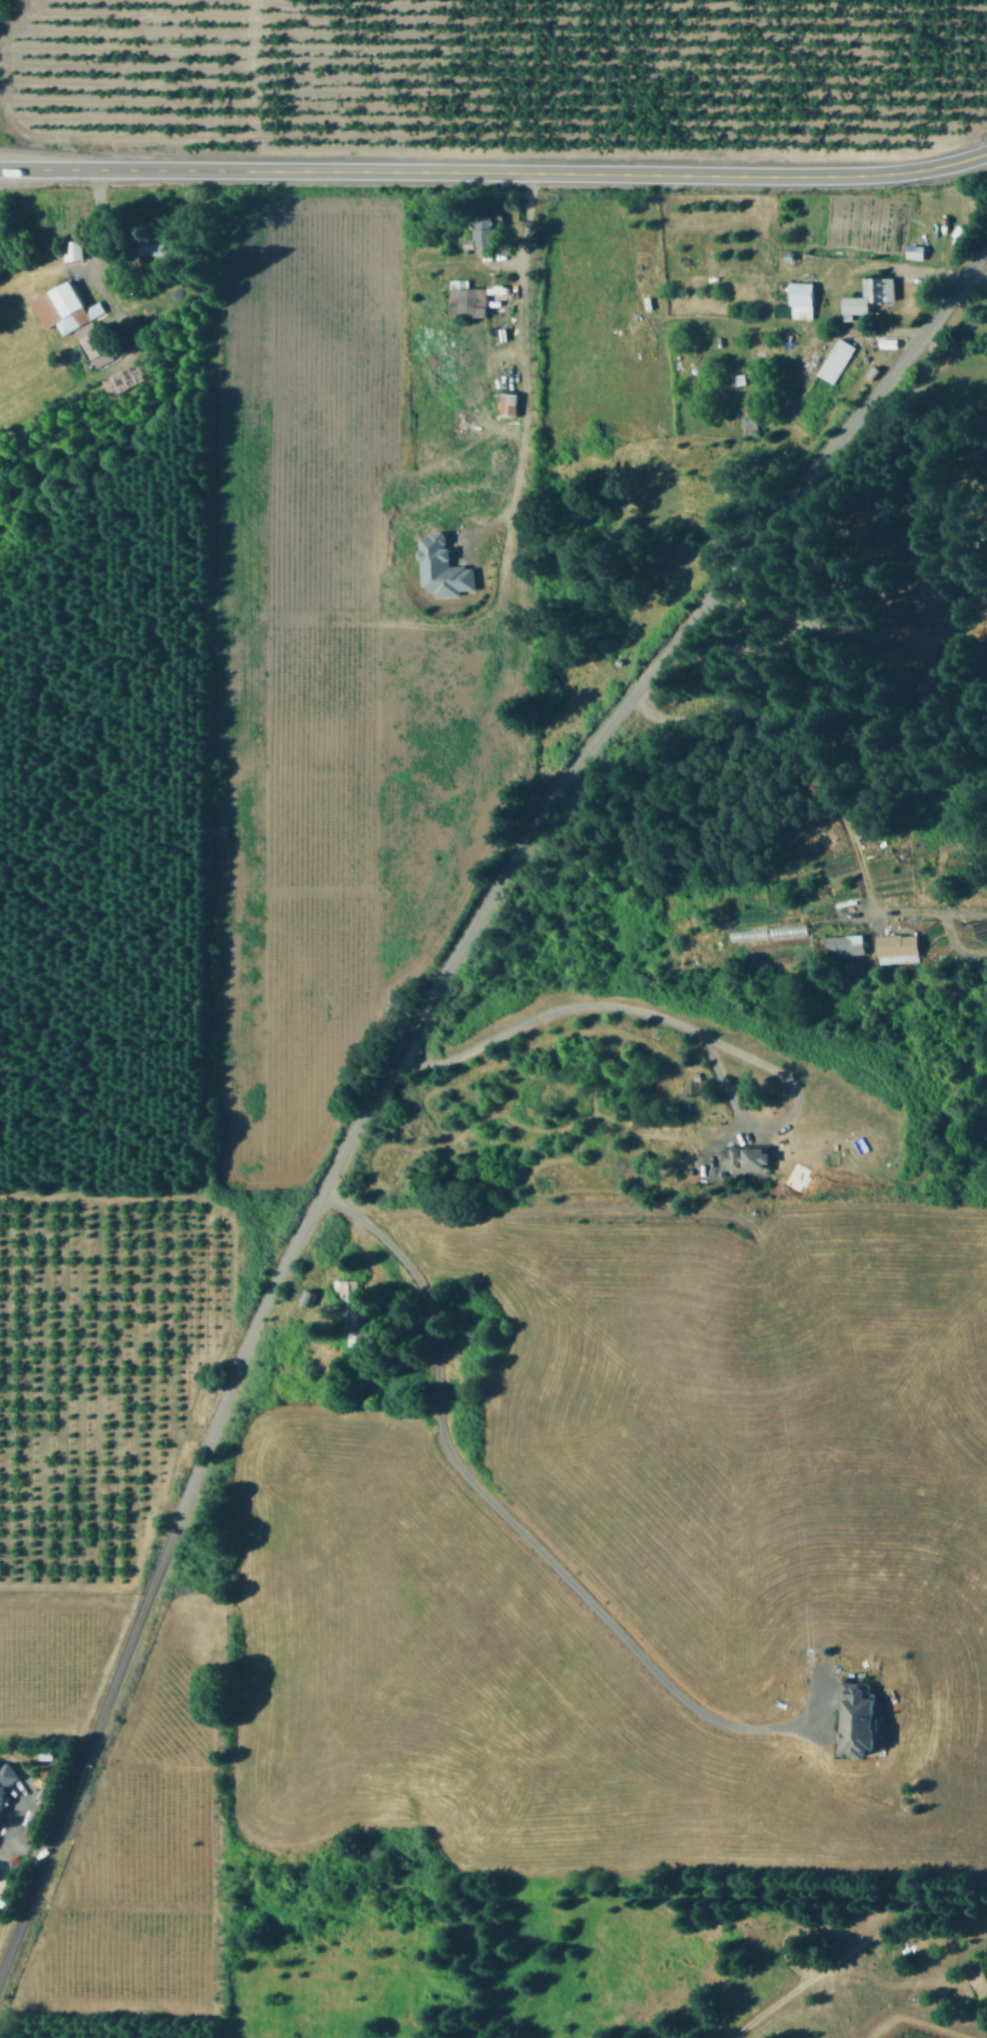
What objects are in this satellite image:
road: (494, 172)
building: (487, 231)
building: (76, 250)
building: (917, 250)
building: (870, 294)
building: (803, 299)
building: (469, 300)
building: (74, 306)
building: (48, 308)
building: (95, 343)
building: (837, 359)
road: (521, 367)
building: (510, 403)
crop: (413, 532)
building: (443, 567)
road: (797, 769)
building: (846, 945)
building: (898, 948)
road: (684, 1028)
road: (394, 1048)
building: (749, 1157)
building: (348, 1291)
crop: (577, 1599)
crop: (40, 1687)
building: (861, 1719)
building: (4, 1784)

